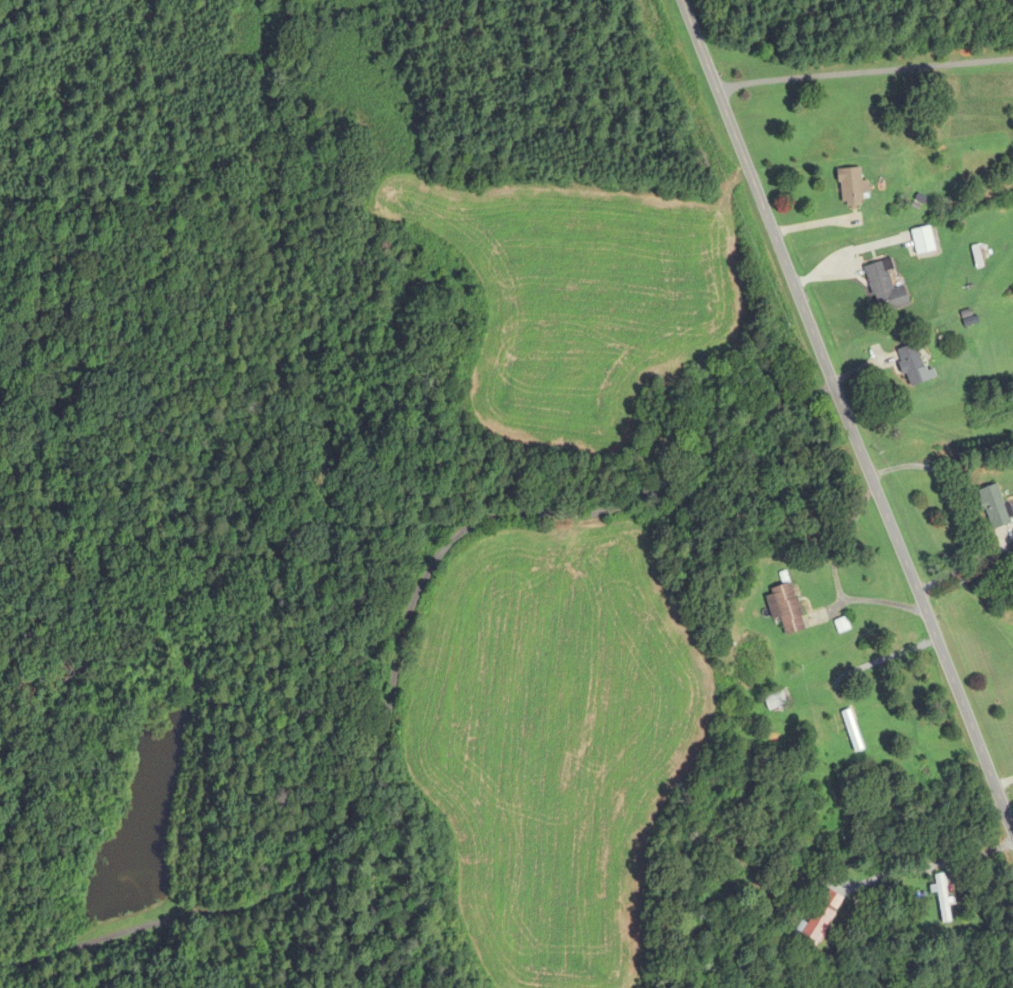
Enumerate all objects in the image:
road: (864, 71)
building: (851, 187)
building: (922, 241)
building: (885, 289)
building: (912, 365)
road: (846, 417)
road: (940, 458)
building: (993, 507)
road: (974, 532)
road: (839, 540)
road: (869, 599)
building: (785, 610)
road: (396, 660)
road: (879, 661)
building: (776, 700)
building: (851, 732)
road: (930, 865)
building: (941, 898)
building: (816, 925)

